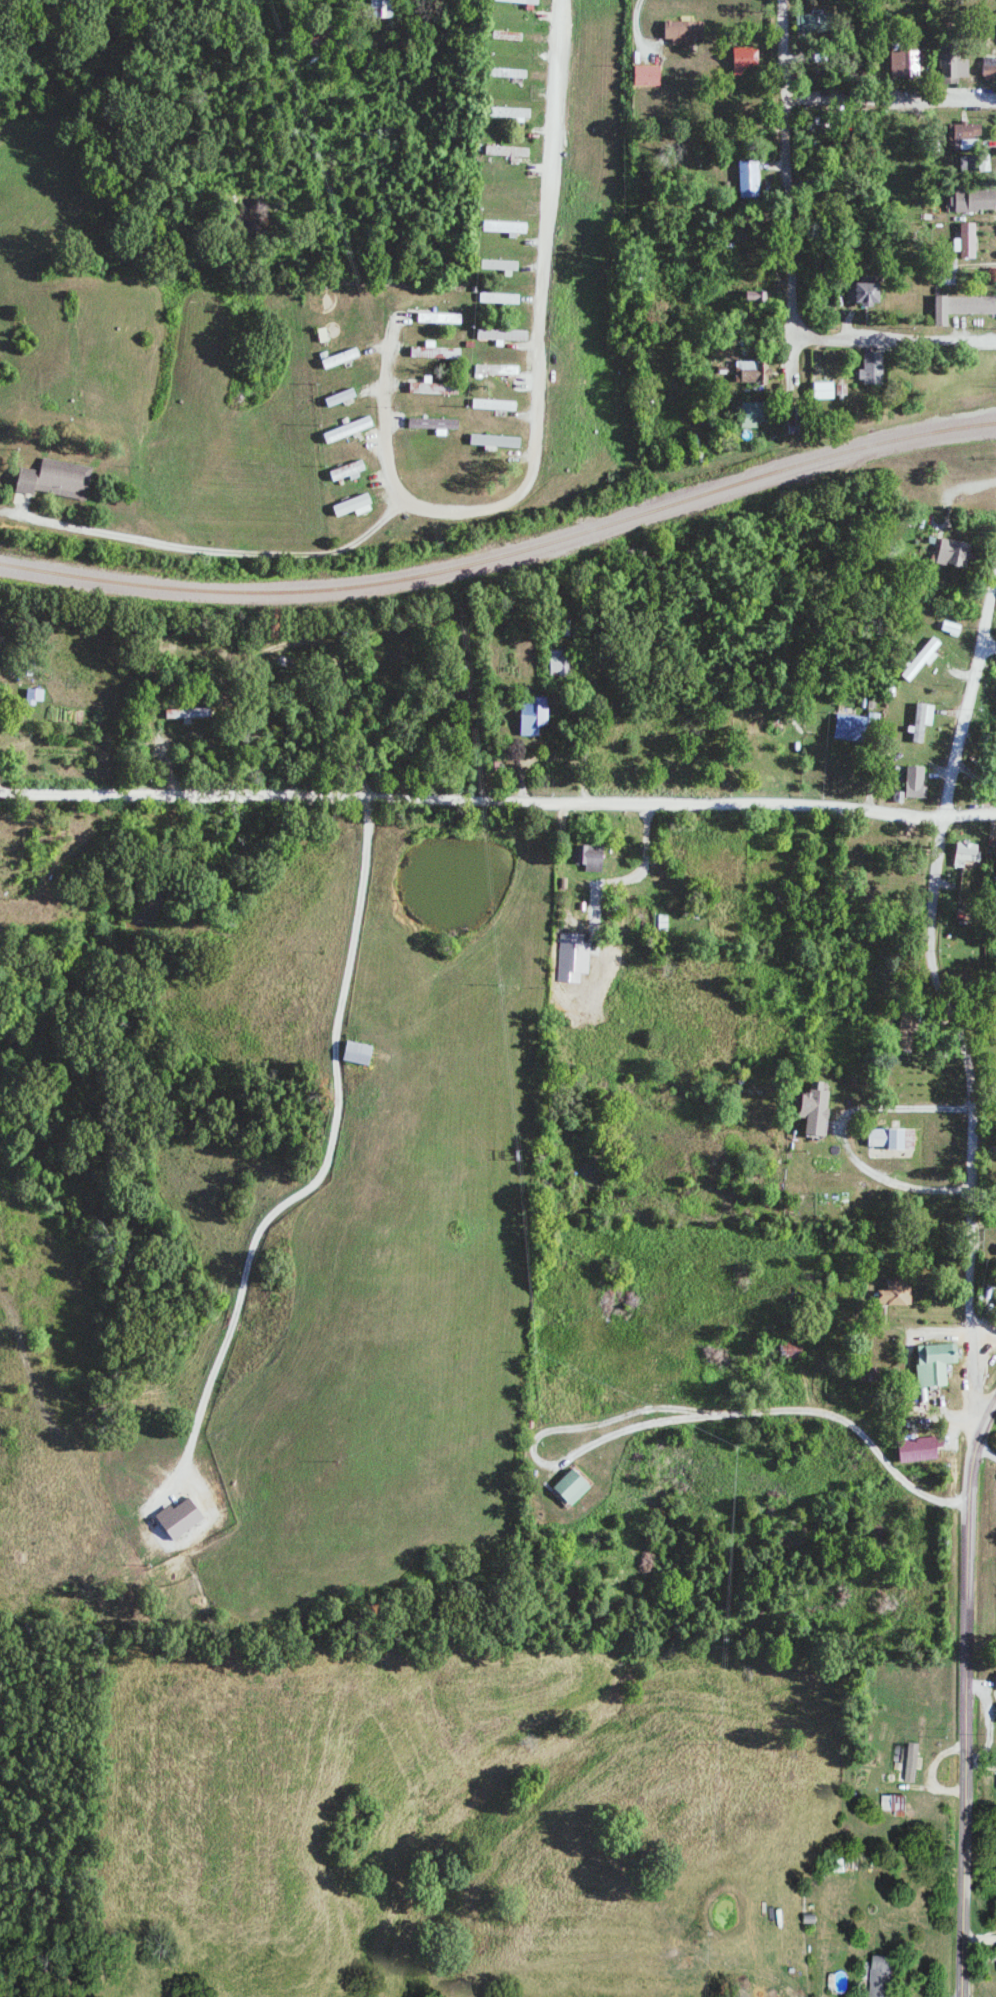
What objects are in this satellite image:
building: (378, 9)
building: (683, 31)
building: (507, 36)
building: (745, 61)
building: (907, 64)
building: (953, 66)
building: (989, 67)
building: (647, 76)
road: (891, 101)
building: (508, 112)
building: (965, 131)
building: (505, 150)
building: (984, 164)
building: (748, 180)
building: (975, 200)
road: (788, 205)
building: (505, 228)
building: (966, 241)
building: (500, 267)
building: (866, 291)
building: (499, 299)
building: (961, 307)
building: (501, 335)
road: (893, 338)
building: (434, 352)
building: (871, 369)
building: (752, 373)
building: (432, 388)
building: (840, 390)
building: (823, 391)
building: (502, 406)
road: (541, 412)
building: (753, 415)
building: (432, 424)
building: (347, 430)
building: (495, 442)
building: (348, 470)
building: (53, 478)
building: (353, 506)
railway: (504, 552)
building: (953, 552)
road: (991, 647)
building: (922, 659)
building: (556, 663)
building: (33, 695)
building: (187, 713)
building: (531, 713)
building: (922, 720)
building: (850, 727)
building: (915, 781)
road: (498, 800)
building: (965, 853)
building: (588, 857)
road: (955, 1009)
building: (906, 1033)
building: (356, 1053)
building: (814, 1108)
building: (890, 1138)
building: (894, 1293)
road: (983, 1330)
building: (790, 1350)
building: (933, 1363)
road: (783, 1413)
building: (918, 1444)
road: (986, 1450)
building: (570, 1487)
building: (178, 1518)
road: (967, 1697)
building: (908, 1763)
building: (995, 1786)
building: (892, 1804)
building: (994, 1954)
building: (879, 1977)

